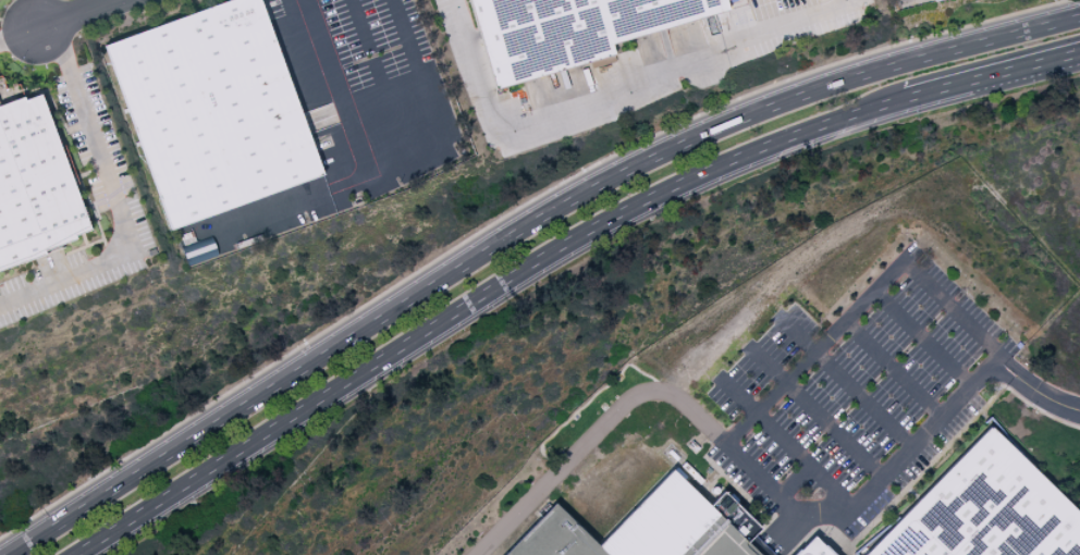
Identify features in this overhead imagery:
road: (125, 1)
building: (938, 1)
road: (91, 15)
building: (569, 30)
road: (38, 34)
road: (377, 77)
road: (610, 96)
building: (212, 112)
road: (386, 160)
building: (34, 186)
road: (286, 200)
road: (119, 206)
road: (519, 231)
road: (554, 250)
road: (921, 342)
road: (892, 370)
road: (847, 385)
road: (1034, 392)
road: (818, 417)
road: (596, 434)
road: (733, 435)
road: (786, 446)
road: (793, 482)
building: (985, 509)
building: (650, 528)
building: (812, 547)

